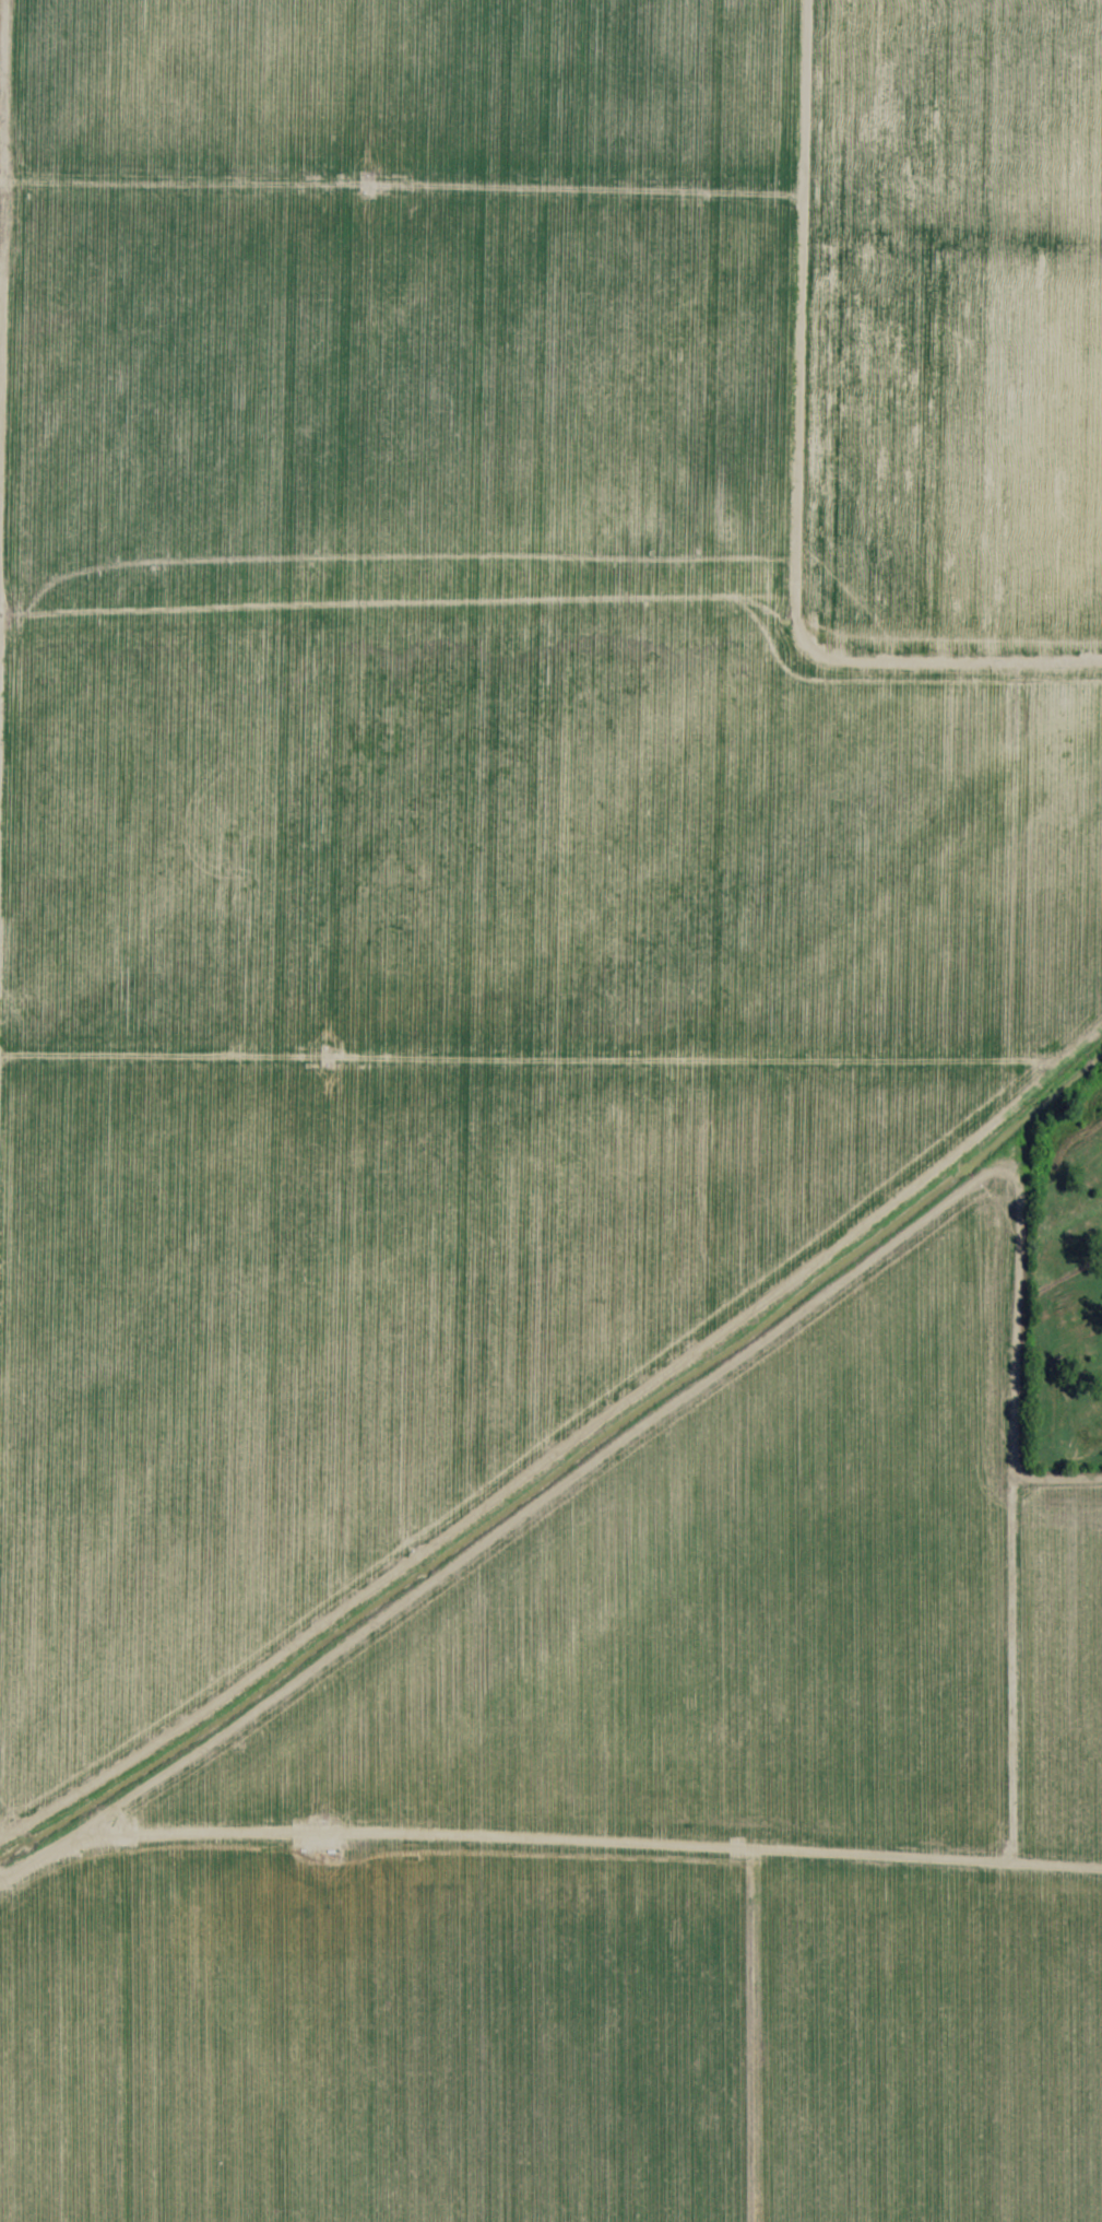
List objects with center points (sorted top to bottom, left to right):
road: (797, 475)
road: (531, 1058)

